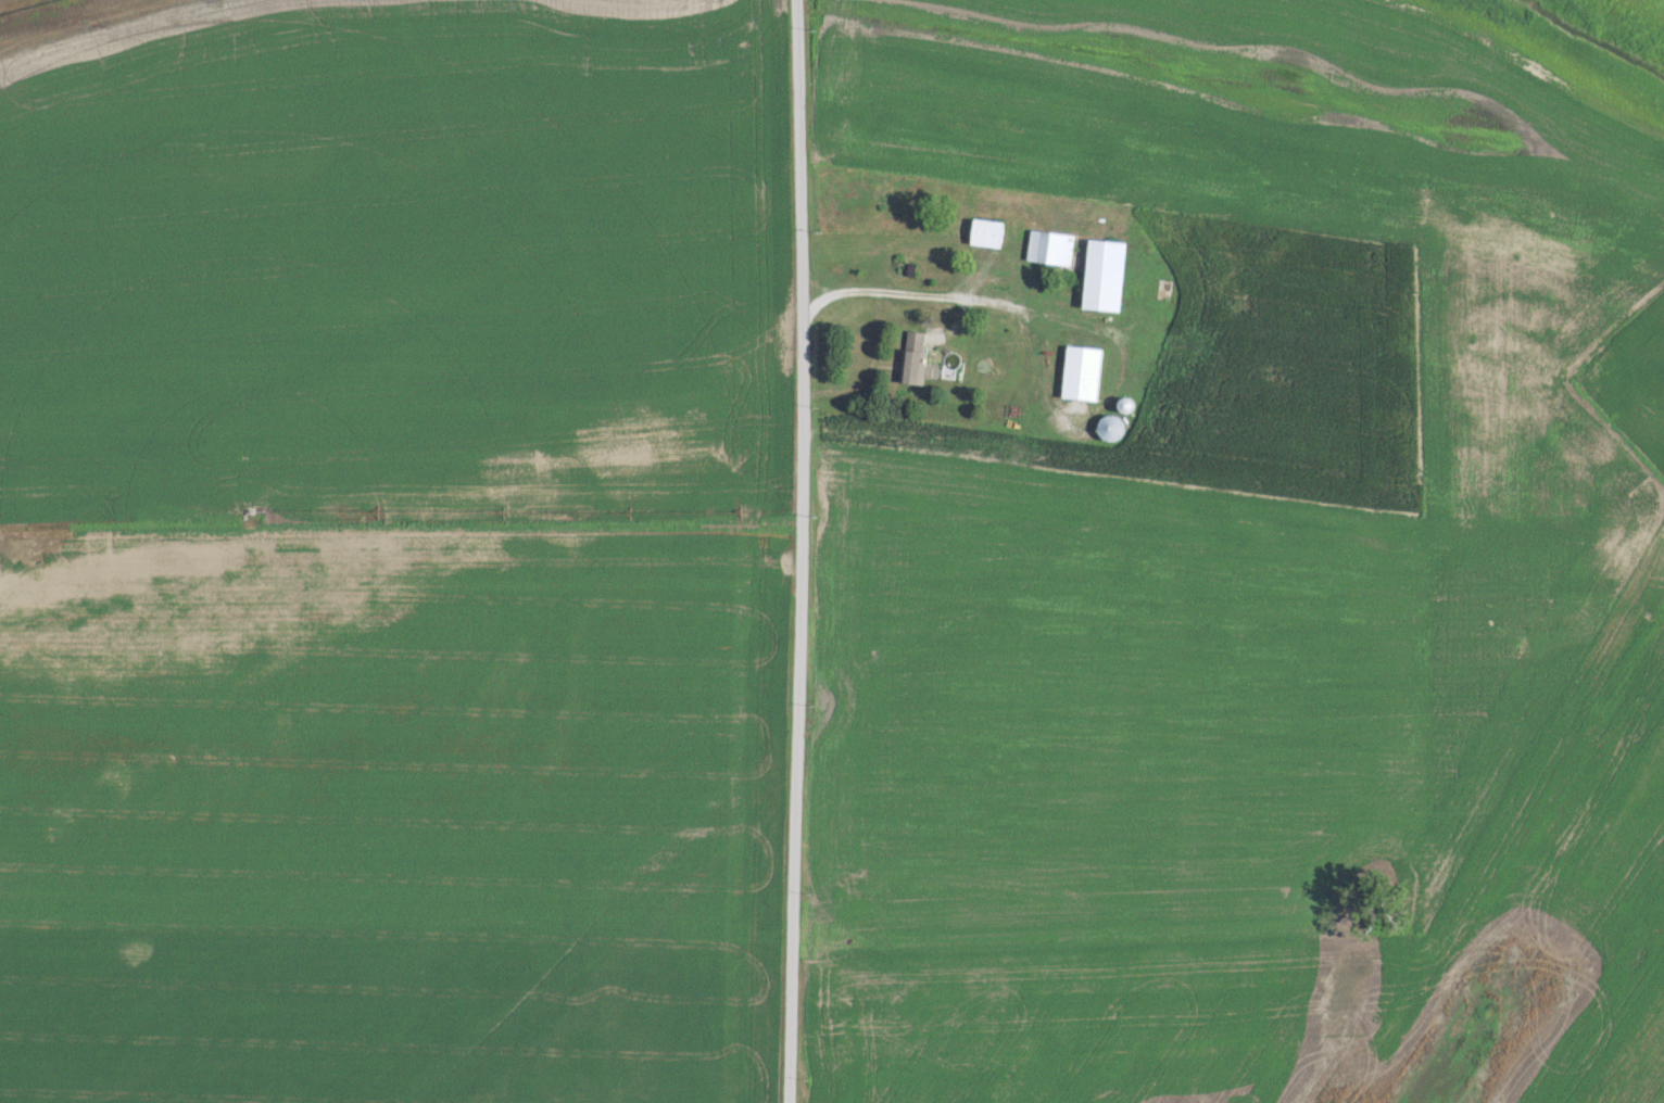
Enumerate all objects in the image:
building: (984, 231)
building: (1048, 246)
building: (1101, 274)
road: (815, 282)
road: (970, 296)
road: (815, 302)
building: (911, 365)
road: (869, 368)
building: (1079, 372)
road: (799, 551)

